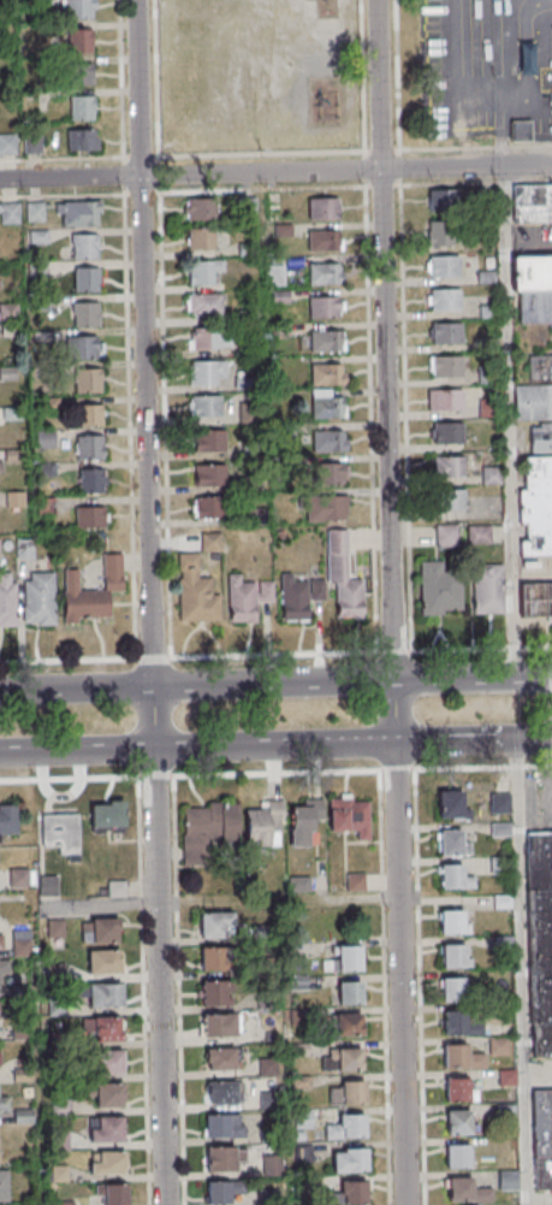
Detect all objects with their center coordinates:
building: (78, 8)
building: (81, 40)
parking lot: (488, 69)
building: (81, 73)
road: (379, 83)
building: (82, 106)
building: (520, 129)
building: (83, 140)
road: (120, 140)
building: (7, 143)
building: (34, 143)
road: (400, 148)
road: (382, 149)
road: (257, 154)
road: (140, 158)
road: (465, 165)
road: (400, 166)
road: (364, 169)
road: (190, 175)
road: (121, 176)
road: (158, 176)
road: (381, 185)
road: (262, 190)
road: (140, 194)
building: (443, 199)
building: (532, 202)
building: (250, 207)
building: (322, 207)
building: (201, 211)
building: (8, 212)
building: (79, 212)
building: (438, 232)
road: (528, 238)
building: (325, 240)
parking lot: (532, 240)
building: (200, 241)
building: (84, 248)
building: (441, 266)
building: (203, 271)
building: (325, 272)
building: (530, 272)
building: (485, 276)
building: (87, 279)
building: (444, 299)
building: (204, 306)
building: (326, 306)
building: (534, 306)
building: (486, 308)
building: (85, 315)
building: (445, 332)
building: (489, 337)
building: (206, 339)
building: (326, 339)
road: (403, 339)
building: (87, 347)
road: (127, 365)
building: (444, 365)
building: (540, 367)
building: (327, 373)
building: (202, 374)
building: (486, 376)
building: (87, 382)
building: (444, 398)
building: (533, 401)
building: (327, 404)
building: (486, 407)
building: (204, 408)
building: (250, 413)
building: (88, 417)
road: (508, 420)
building: (446, 432)
building: (540, 437)
building: (330, 441)
building: (209, 443)
building: (89, 449)
building: (447, 465)
building: (328, 473)
building: (489, 474)
building: (209, 477)
building: (91, 479)
building: (449, 498)
building: (536, 506)
building: (207, 507)
building: (324, 508)
building: (90, 516)
building: (477, 533)
building: (445, 534)
building: (343, 575)
building: (486, 587)
building: (438, 589)
building: (93, 591)
building: (195, 591)
building: (299, 596)
building: (38, 598)
building: (247, 598)
building: (7, 599)
building: (535, 599)
road: (149, 602)
road: (479, 648)
road: (392, 651)
road: (273, 652)
road: (153, 656)
road: (69, 658)
road: (473, 678)
road: (547, 680)
road: (273, 683)
road: (393, 686)
road: (76, 689)
road: (545, 734)
road: (473, 740)
road: (197, 748)
road: (275, 770)
parking lot: (538, 798)
building: (499, 802)
building: (450, 807)
building: (350, 815)
building: (108, 816)
building: (8, 820)
building: (304, 821)
building: (265, 823)
building: (208, 828)
building: (61, 831)
building: (449, 845)
building: (20, 879)
building: (450, 879)
building: (355, 881)
building: (49, 885)
building: (216, 925)
building: (450, 925)
building: (57, 931)
building: (102, 931)
building: (540, 940)
building: (1, 941)
building: (214, 958)
building: (452, 958)
building: (105, 961)
building: (348, 962)
building: (4, 967)
road: (517, 973)
building: (297, 985)
building: (452, 991)
building: (215, 992)
building: (105, 994)
building: (349, 997)
building: (297, 1020)
building: (453, 1023)
building: (220, 1024)
building: (102, 1029)
building: (348, 1029)
building: (498, 1046)
building: (298, 1051)
building: (462, 1057)
building: (220, 1058)
building: (111, 1062)
building: (342, 1063)
parking lot: (541, 1074)
building: (299, 1083)
building: (457, 1089)
building: (224, 1092)
building: (108, 1094)
building: (346, 1097)
building: (2, 1101)
building: (504, 1114)
building: (302, 1121)
building: (457, 1126)
building: (106, 1128)
building: (222, 1128)
building: (345, 1130)
building: (267, 1138)
building: (542, 1139)
building: (302, 1156)
building: (457, 1159)
building: (107, 1162)
building: (222, 1162)
building: (349, 1164)
building: (271, 1166)
building: (506, 1181)
building: (304, 1185)
building: (4, 1187)
building: (221, 1193)
building: (465, 1193)
building: (111, 1194)
building: (352, 1194)
building: (266, 1198)

